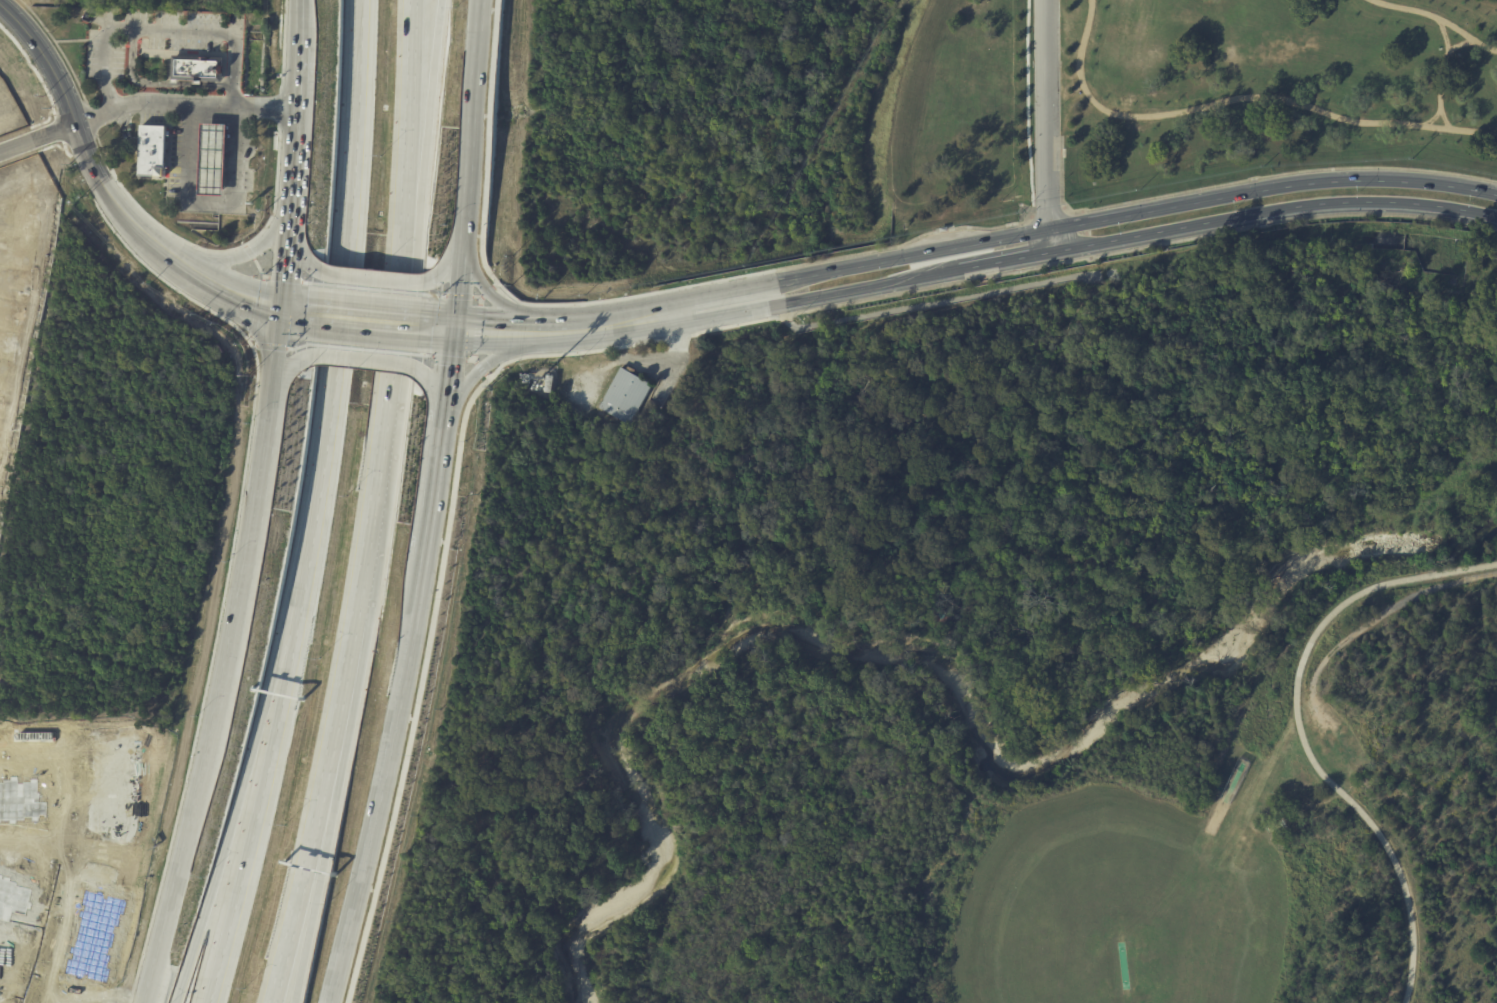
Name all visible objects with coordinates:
road: (294, 15)
road: (1436, 17)
road: (163, 28)
road: (1443, 33)
road: (1461, 43)
building: (196, 69)
road: (1439, 79)
road: (155, 82)
road: (1240, 97)
road: (181, 104)
park: (1116, 107)
road: (291, 118)
road: (1432, 118)
road: (408, 120)
road: (1444, 120)
road: (427, 121)
road: (1045, 126)
road: (37, 138)
road: (194, 139)
road: (213, 139)
road: (231, 139)
road: (1027, 145)
building: (152, 151)
building: (1064, 155)
road: (194, 158)
road: (212, 158)
road: (230, 159)
building: (213, 161)
gas station: (213, 161)
road: (469, 163)
road: (91, 168)
road: (194, 178)
road: (212, 178)
road: (230, 179)
road: (1241, 181)
road: (210, 202)
road: (1047, 210)
road: (287, 218)
road: (1015, 236)
road: (244, 254)
road: (300, 255)
road: (1017, 258)
road: (450, 259)
road: (283, 268)
road: (373, 278)
road: (255, 300)
road: (346, 305)
traffic signals: (281, 306)
road: (298, 308)
road: (368, 316)
road: (440, 324)
traffic signals: (458, 326)
road: (497, 330)
road: (275, 350)
road: (364, 362)
road: (490, 363)
road: (455, 365)
road: (287, 370)
road: (435, 384)
building: (550, 385)
building: (626, 396)
building: (639, 432)
road: (446, 479)
road: (258, 481)
road: (450, 495)
road: (375, 507)
road: (1356, 593)
road: (1381, 615)
building: (940, 621)
road: (226, 667)
parking lot: (1331, 741)
road: (387, 779)
building: (112, 782)
building: (17, 800)
road: (236, 804)
road: (257, 805)
road: (63, 841)
road: (1384, 846)
road: (31, 848)
building: (96, 874)
road: (172, 884)
road: (300, 887)
road: (317, 888)
building: (11, 898)
park: (1123, 915)
building: (93, 935)
road: (26, 978)
road: (39, 1002)

